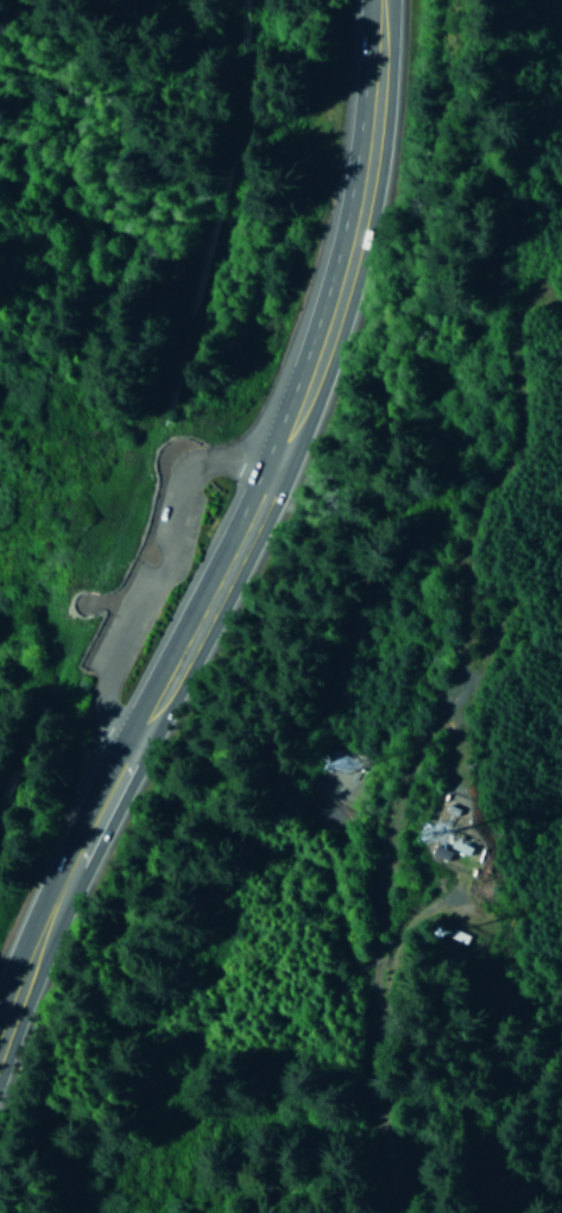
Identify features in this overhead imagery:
road: (241, 481)
parking lot: (147, 568)
road: (140, 582)
building: (434, 941)
road: (7, 946)
road: (381, 1146)

